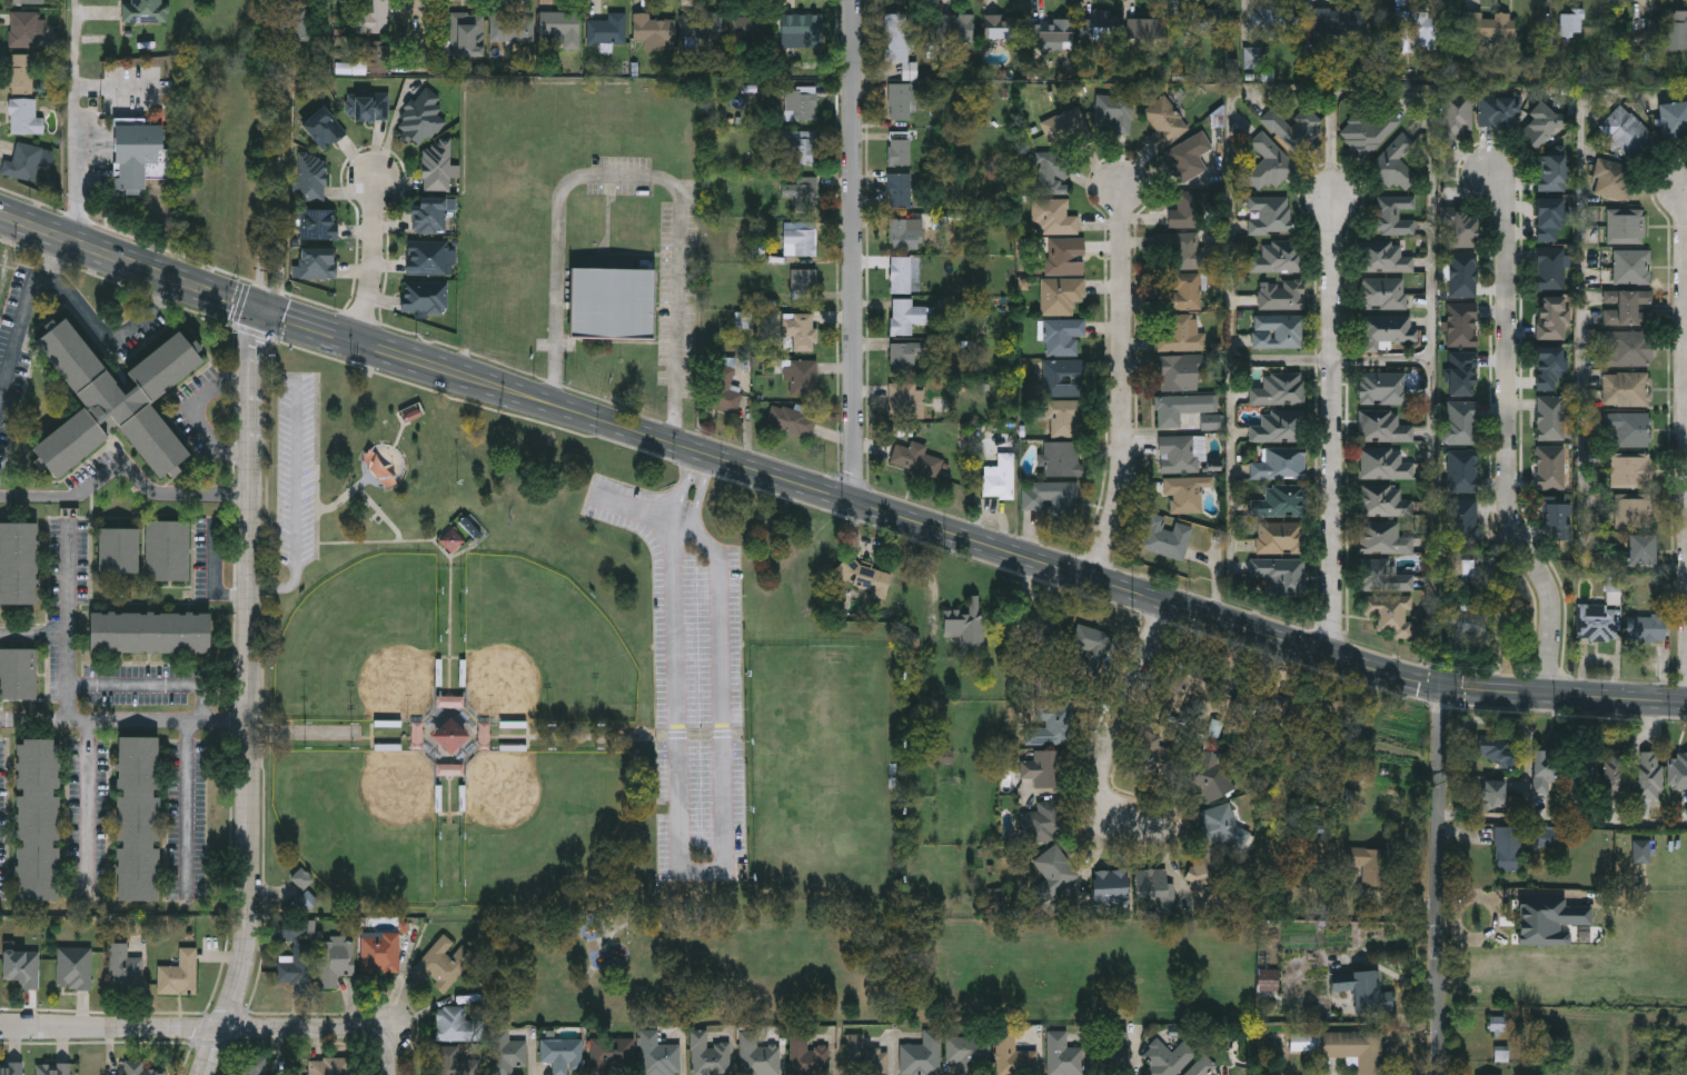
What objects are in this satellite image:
building: (27, 1)
building: (146, 9)
building: (370, 16)
building: (1276, 18)
building: (1339, 20)
building: (1205, 21)
building: (701, 24)
building: (1487, 24)
building: (1667, 24)
building: (1002, 26)
building: (1570, 26)
building: (510, 27)
building: (560, 27)
building: (743, 27)
building: (1408, 27)
building: (952, 28)
building: (23, 29)
building: (606, 29)
building: (1098, 30)
building: (1147, 30)
building: (652, 31)
building: (801, 31)
building: (1052, 33)
building: (466, 34)
road: (428, 37)
building: (895, 37)
building: (1251, 57)
building: (365, 62)
building: (20, 73)
road: (117, 89)
road: (1608, 94)
building: (901, 101)
building: (800, 103)
building: (368, 107)
building: (1113, 111)
building: (1497, 111)
building: (1456, 115)
building: (421, 117)
building: (23, 118)
road: (75, 119)
building: (1165, 119)
building: (1673, 119)
building: (1539, 126)
building: (322, 128)
building: (1060, 128)
building: (1296, 130)
building: (1367, 131)
building: (1625, 131)
building: (798, 147)
building: (137, 150)
building: (899, 150)
building: (1189, 156)
building: (22, 161)
building: (1269, 162)
building: (1396, 162)
building: (437, 167)
building: (1550, 172)
building: (1052, 176)
building: (311, 177)
building: (1611, 179)
building: (899, 189)
building: (802, 192)
building: (1188, 209)
building: (1269, 213)
building: (1392, 213)
building: (428, 215)
building: (1053, 216)
building: (1547, 218)
building: (317, 223)
road: (557, 225)
building: (1625, 226)
building: (1461, 229)
road: (1230, 230)
building: (903, 232)
building: (798, 238)
building: (1184, 249)
road: (856, 250)
road: (49, 253)
road: (369, 255)
building: (1064, 255)
building: (427, 256)
building: (1278, 256)
building: (1382, 256)
building: (317, 261)
building: (1631, 266)
building: (1550, 268)
building: (900, 273)
building: (1461, 273)
building: (802, 281)
road: (161, 290)
building: (1182, 291)
building: (1382, 292)
building: (1281, 293)
building: (1060, 295)
building: (424, 296)
building: (611, 302)
building: (1625, 307)
road: (1433, 311)
building: (905, 315)
building: (1550, 317)
road: (682, 320)
building: (1461, 324)
road: (99, 325)
building: (1388, 328)
building: (800, 329)
building: (1278, 329)
road: (17, 332)
building: (1181, 334)
building: (1062, 336)
building: (1625, 348)
building: (903, 358)
road: (1386, 358)
road: (1283, 359)
building: (1548, 367)
building: (1179, 371)
building: (1461, 372)
building: (801, 377)
building: (1062, 377)
road: (276, 378)
road: (1125, 384)
building: (1279, 387)
building: (1383, 387)
building: (1625, 388)
building: (723, 390)
building: (903, 399)
building: (113, 401)
building: (1181, 407)
road: (191, 411)
building: (1064, 417)
building: (1549, 417)
building: (791, 420)
building: (1210, 420)
building: (1460, 421)
road: (1337, 424)
building: (1279, 426)
building: (1383, 426)
building: (1627, 427)
road: (1508, 438)
building: (1179, 452)
building: (915, 458)
building: (1061, 458)
building: (1386, 462)
building: (1279, 464)
road: (702, 465)
road: (127, 466)
parking lot: (297, 467)
building: (1550, 467)
building: (1461, 470)
building: (1630, 470)
road: (297, 474)
building: (1000, 477)
road: (834, 492)
building: (1185, 492)
building: (1054, 497)
building: (1281, 500)
building: (1382, 500)
building: (1633, 512)
building: (1556, 515)
building: (1461, 520)
building: (470, 524)
road: (683, 527)
building: (1165, 537)
building: (1279, 537)
building: (451, 538)
building: (1382, 538)
building: (1640, 548)
building: (118, 550)
building: (168, 551)
building: (18, 564)
building: (1456, 566)
building: (1280, 573)
building: (1383, 575)
road: (215, 578)
road: (282, 586)
building: (1387, 614)
building: (1465, 620)
building: (1596, 621)
building: (966, 623)
road: (69, 624)
building: (1646, 627)
building: (1044, 630)
building: (148, 633)
road: (34, 634)
park: (361, 638)
park: (536, 638)
building: (1090, 640)
building: (18, 674)
road: (139, 685)
parking lot: (693, 690)
road: (254, 694)
building: (450, 700)
road: (207, 703)
park: (575, 715)
road: (1124, 717)
road: (126, 721)
building: (1050, 726)
building: (416, 734)
building: (449, 734)
building: (483, 734)
building: (1499, 750)
building: (931, 756)
building: (450, 768)
building: (1043, 768)
building: (1546, 768)
building: (1581, 768)
building: (1678, 768)
park: (825, 770)
building: (1614, 772)
building: (1208, 773)
building: (1648, 775)
building: (1494, 794)
road: (87, 800)
road: (186, 805)
building: (137, 818)
building: (36, 819)
park: (361, 819)
park: (536, 819)
building: (1043, 822)
road: (1565, 822)
building: (1221, 825)
building: (1507, 852)
building: (1367, 857)
road: (709, 869)
building: (1053, 874)
road: (1445, 879)
building: (1153, 886)
building: (1110, 887)
building: (292, 929)
building: (379, 952)
building: (338, 958)
building: (444, 964)
building: (22, 968)
building: (73, 968)
building: (125, 969)
building: (296, 969)
building: (179, 974)
building: (1268, 979)
building: (1367, 992)
building: (1499, 1023)
road: (193, 1026)
building: (457, 1026)
building: (1302, 1042)
building: (1354, 1048)
building: (506, 1052)
building: (967, 1053)
building: (921, 1054)
road: (388, 1055)
building: (562, 1055)
building: (657, 1055)
building: (708, 1055)
building: (1062, 1055)
building: (611, 1056)
building: (757, 1056)
building: (1012, 1056)
building: (1111, 1056)
building: (807, 1057)
building: (864, 1057)
building: (1168, 1057)
building: (250, 1065)
building: (325, 1066)
building: (1201, 1066)
building: (11, 1068)
building: (141, 1068)
building: (52, 1069)

